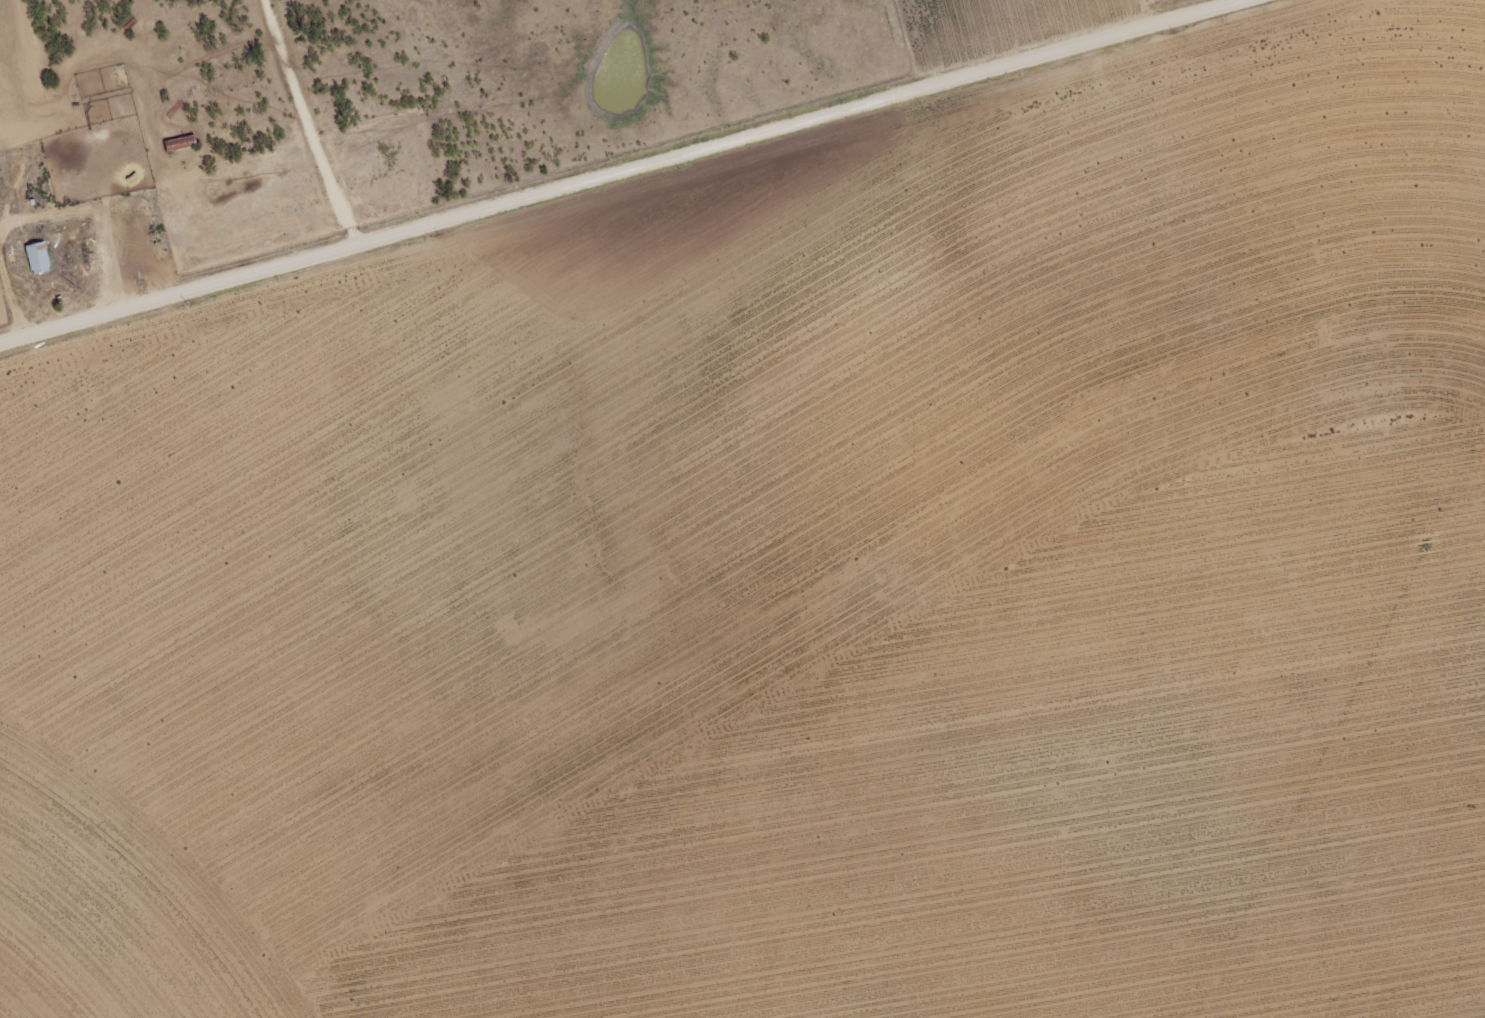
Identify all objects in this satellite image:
building: (181, 142)
road: (615, 169)
building: (38, 257)

